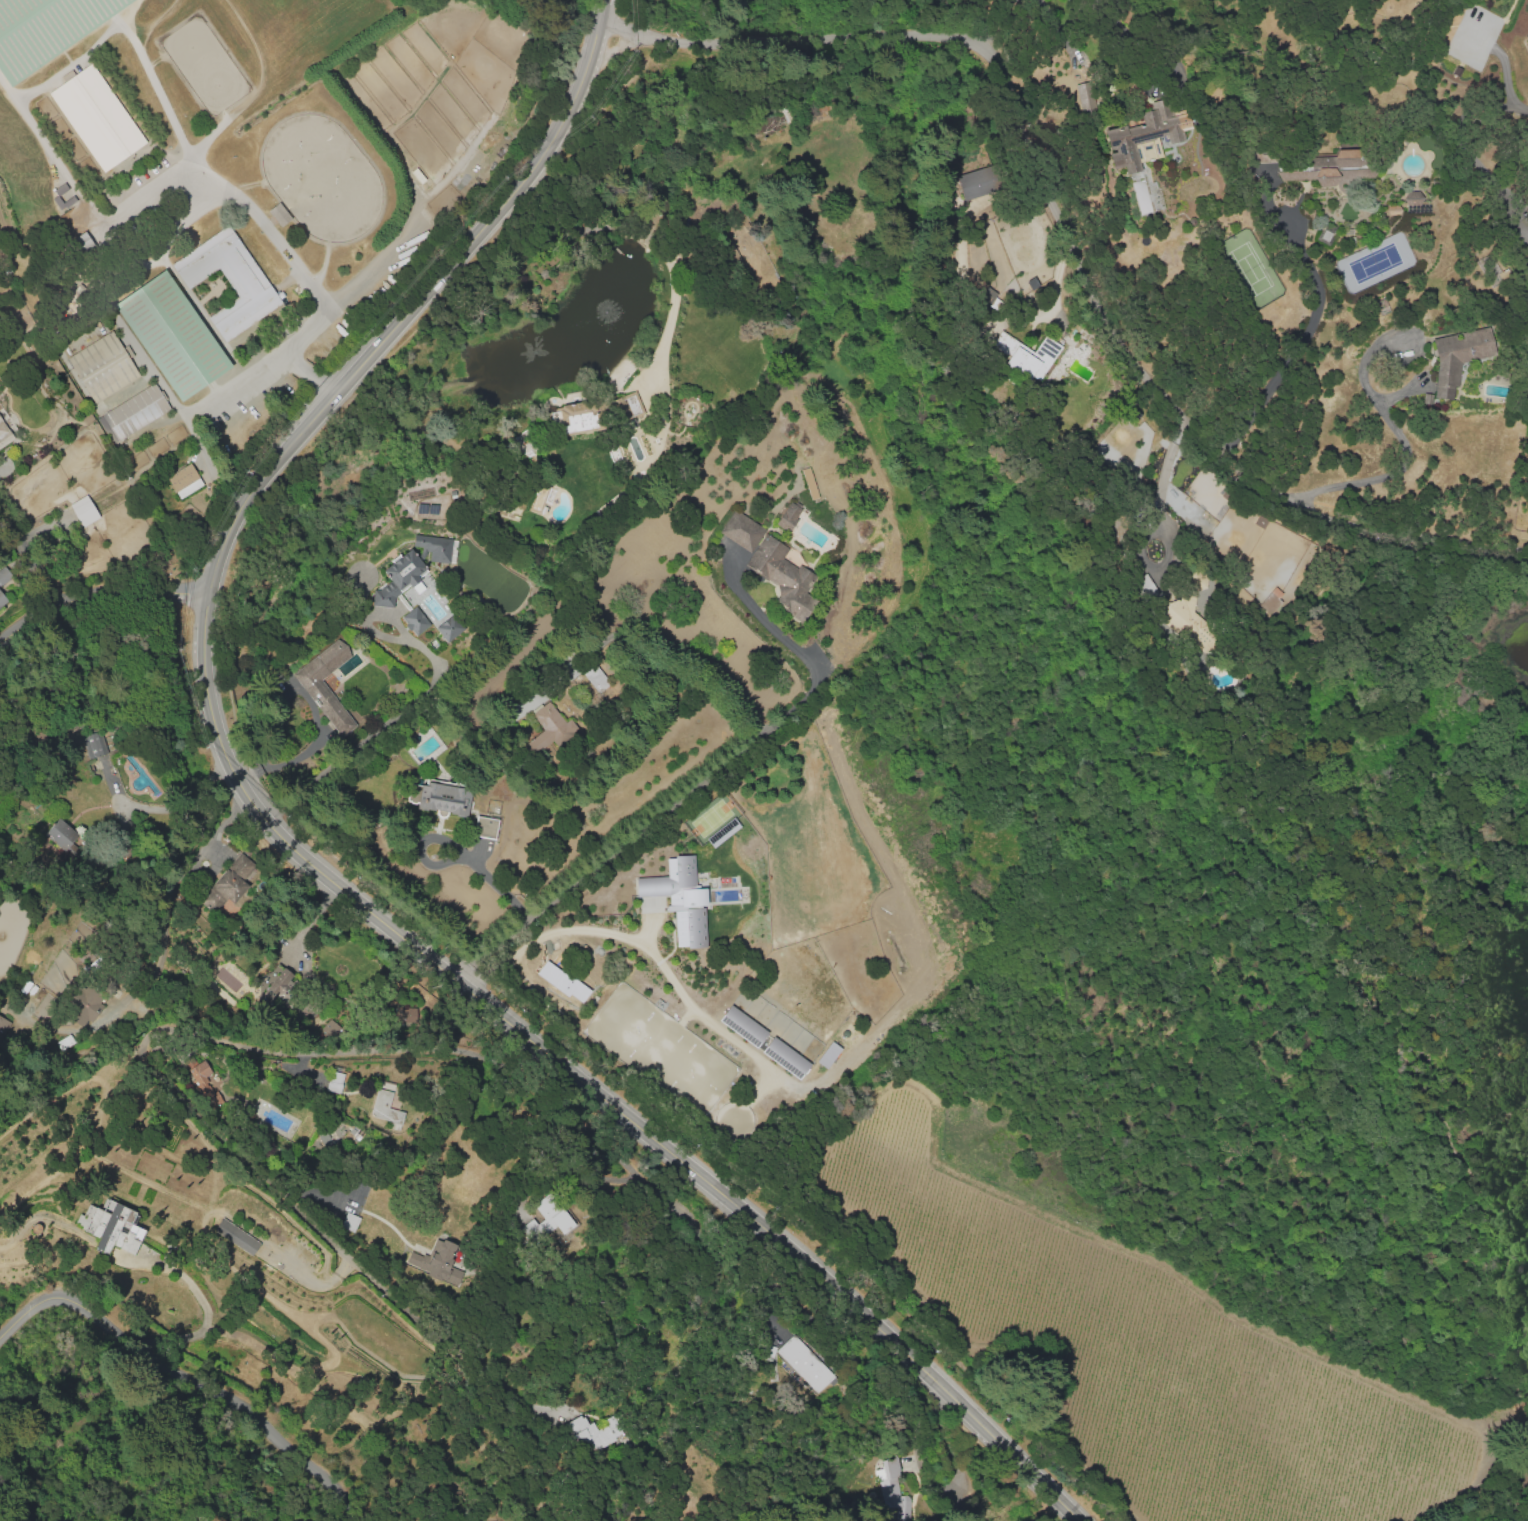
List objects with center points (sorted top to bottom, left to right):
building: (43, 29)
park: (43, 29)
building: (1372, 60)
park: (204, 64)
road: (1504, 75)
building: (1089, 101)
building: (96, 116)
building: (1149, 134)
building: (1265, 159)
building: (1330, 169)
park: (320, 175)
road: (153, 180)
building: (976, 182)
building: (61, 197)
building: (1412, 202)
building: (1391, 211)
building: (279, 214)
building: (1371, 229)
road: (1071, 230)
building: (1326, 238)
building: (1364, 241)
building: (1352, 242)
building: (81, 248)
building: (730, 258)
building: (1491, 269)
building: (1527, 274)
building: (229, 278)
building: (172, 333)
park: (172, 333)
road: (1300, 343)
building: (1023, 355)
building: (1460, 359)
road: (265, 364)
building: (102, 366)
road: (309, 372)
road: (1372, 397)
building: (1428, 399)
building: (625, 407)
building: (137, 411)
building: (575, 420)
building: (4, 431)
building: (183, 478)
road: (1161, 490)
building: (85, 511)
building: (787, 516)
road: (38, 531)
building: (741, 531)
building: (433, 547)
road: (32, 563)
building: (781, 575)
building: (4, 577)
building: (397, 578)
road: (132, 582)
building: (1142, 587)
building: (3, 598)
building: (414, 620)
road: (30, 623)
road: (766, 623)
building: (596, 679)
building: (325, 685)
road: (416, 701)
building: (548, 732)
building: (93, 744)
building: (444, 797)
road: (177, 806)
building: (484, 827)
road: (633, 832)
building: (60, 834)
road: (306, 851)
road: (458, 851)
building: (229, 884)
building: (679, 899)
road: (657, 958)
road: (493, 976)
building: (275, 987)
building: (81, 1007)
building: (742, 1025)
building: (3, 1026)
building: (827, 1054)
building: (785, 1057)
building: (203, 1082)
building: (334, 1082)
building: (385, 1108)
road: (659, 1200)
building: (546, 1219)
building: (349, 1222)
building: (111, 1226)
building: (236, 1236)
building: (435, 1261)
road: (199, 1301)
crop: (1121, 1348)
building: (804, 1363)
road: (187, 1377)
building: (592, 1434)
building: (895, 1490)

